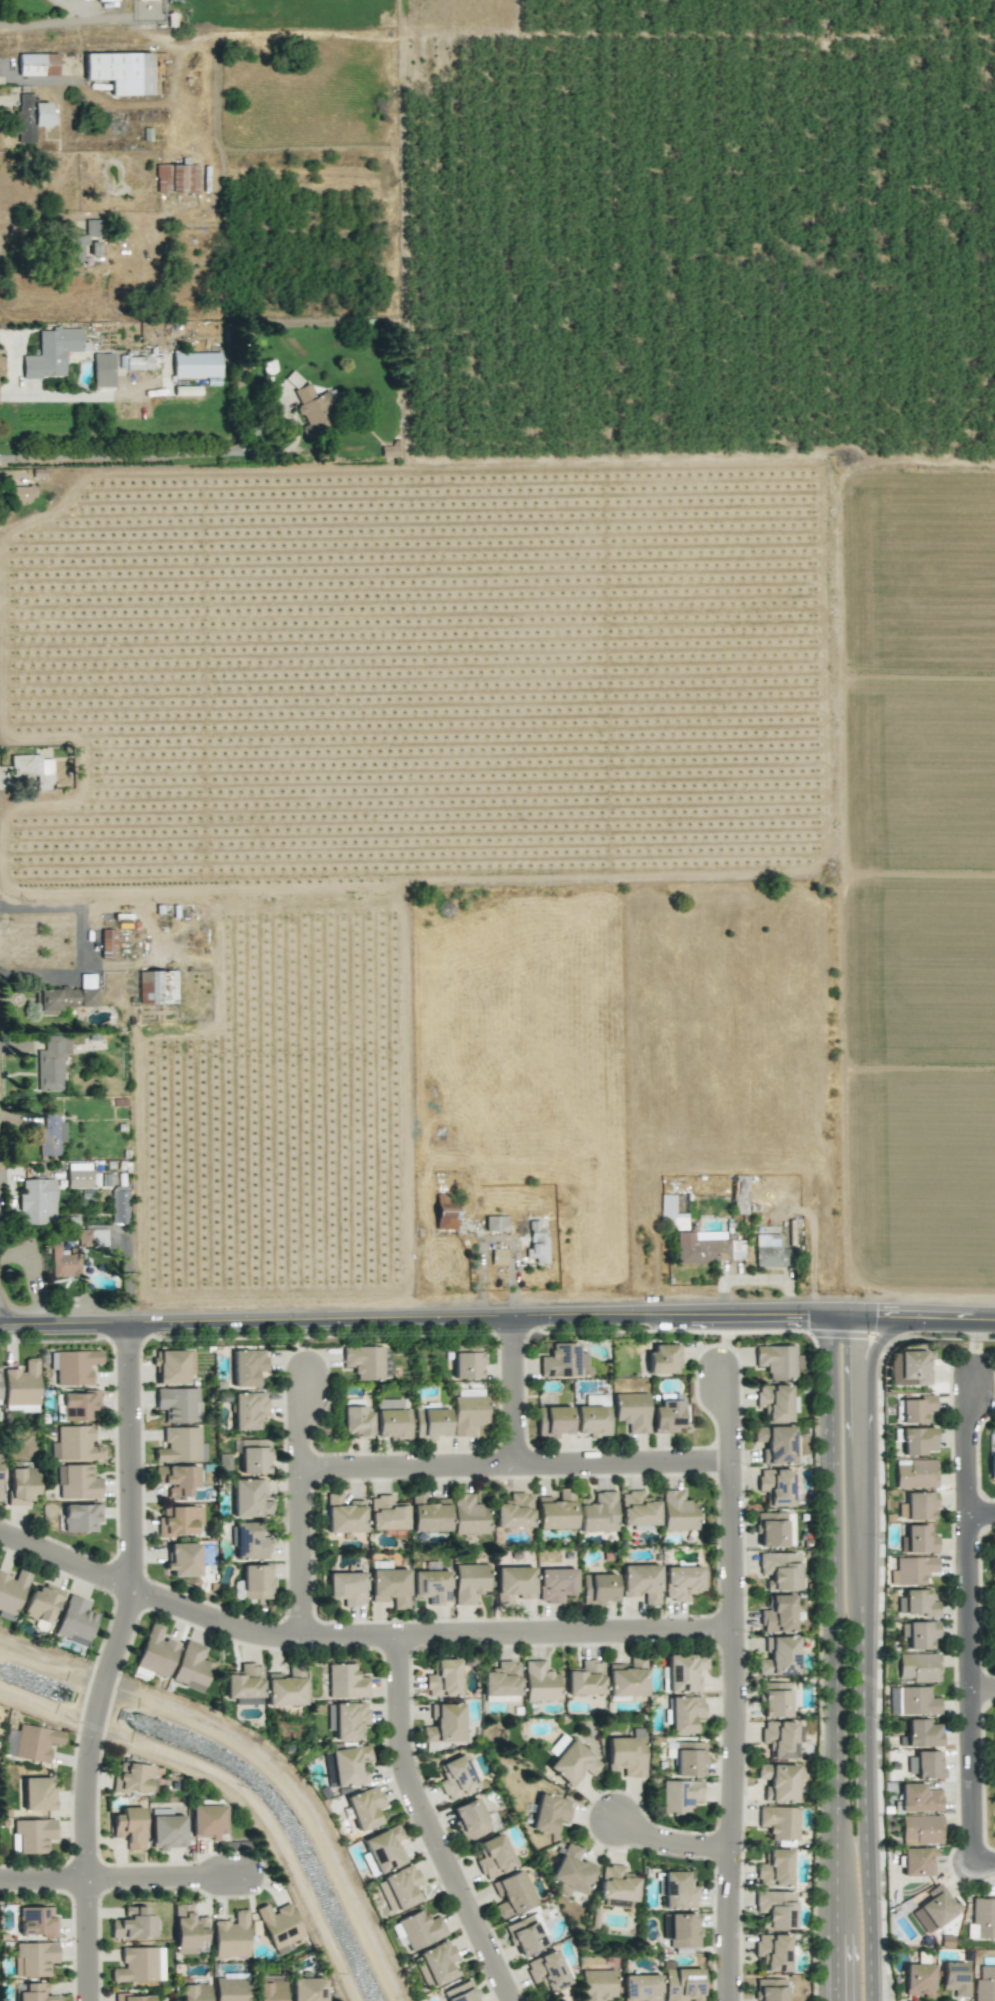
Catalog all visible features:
building: (105, 0)
road: (58, 22)
building: (37, 64)
building: (121, 71)
building: (30, 117)
building: (176, 178)
building: (81, 240)
building: (52, 352)
building: (139, 362)
building: (195, 365)
building: (102, 370)
building: (314, 408)
road: (295, 425)
building: (390, 450)
road: (118, 457)
building: (23, 493)
crop: (555, 580)
building: (33, 769)
road: (80, 942)
building: (107, 943)
building: (157, 987)
building: (65, 996)
building: (52, 1063)
building: (51, 1135)
building: (79, 1175)
building: (37, 1202)
building: (119, 1204)
building: (445, 1212)
building: (671, 1215)
building: (496, 1224)
building: (92, 1237)
building: (537, 1243)
building: (702, 1247)
building: (770, 1252)
building: (498, 1256)
building: (64, 1261)
road: (497, 1312)
road: (877, 1345)
building: (663, 1359)
building: (562, 1361)
building: (778, 1361)
building: (363, 1362)
building: (466, 1365)
building: (75, 1366)
building: (173, 1366)
building: (247, 1367)
building: (386, 1367)
building: (910, 1368)
building: (21, 1384)
road: (520, 1386)
building: (469, 1392)
building: (775, 1402)
building: (178, 1404)
building: (79, 1406)
building: (917, 1409)
building: (248, 1410)
building: (631, 1411)
road: (736, 1411)
building: (468, 1414)
building: (593, 1416)
road: (305, 1417)
building: (666, 1417)
building: (391, 1419)
building: (553, 1421)
building: (357, 1422)
building: (430, 1422)
road: (973, 1438)
building: (917, 1441)
building: (75, 1444)
building: (775, 1444)
building: (180, 1445)
building: (253, 1456)
road: (521, 1462)
building: (992, 1466)
building: (915, 1473)
building: (176, 1479)
building: (77, 1482)
building: (21, 1485)
building: (775, 1486)
building: (249, 1499)
building: (920, 1506)
building: (638, 1509)
building: (556, 1511)
building: (677, 1511)
building: (513, 1512)
building: (597, 1512)
road: (985, 1512)
building: (343, 1514)
building: (386, 1514)
building: (429, 1515)
building: (468, 1515)
building: (81, 1517)
building: (179, 1520)
building: (774, 1529)
building: (917, 1540)
building: (250, 1542)
road: (307, 1550)
building: (183, 1560)
building: (993, 1561)
building: (779, 1570)
building: (912, 1570)
building: (256, 1582)
building: (641, 1582)
building: (681, 1582)
building: (469, 1583)
building: (513, 1584)
building: (555, 1584)
building: (430, 1586)
building: (389, 1587)
building: (346, 1588)
building: (598, 1588)
building: (12, 1591)
building: (41, 1603)
building: (917, 1603)
building: (778, 1614)
building: (75, 1621)
road: (360, 1632)
building: (919, 1634)
building: (993, 1643)
building: (156, 1652)
building: (778, 1656)
road: (832, 1656)
road: (859, 1656)
road: (111, 1660)
building: (191, 1667)
building: (918, 1667)
building: (684, 1672)
building: (627, 1678)
building: (443, 1679)
building: (501, 1679)
building: (585, 1679)
building: (346, 1682)
building: (539, 1682)
building: (245, 1685)
road: (976, 1685)
building: (285, 1687)
road: (986, 1688)
building: (501, 1699)
building: (774, 1699)
building: (916, 1701)
building: (684, 1714)
building: (349, 1720)
building: (444, 1723)
road: (741, 1729)
building: (994, 1732)
building: (922, 1733)
building: (779, 1738)
building: (35, 1742)
building: (557, 1745)
building: (627, 1755)
building: (689, 1759)
building: (572, 1763)
building: (349, 1765)
building: (925, 1765)
building: (456, 1778)
building: (134, 1779)
building: (778, 1782)
building: (37, 1793)
building: (679, 1796)
building: (918, 1798)
building: (365, 1808)
building: (549, 1813)
building: (469, 1818)
building: (207, 1821)
building: (779, 1822)
road: (435, 1823)
building: (129, 1827)
building: (921, 1830)
building: (994, 1831)
building: (167, 1832)
building: (31, 1835)
road: (677, 1839)
building: (385, 1849)
building: (493, 1856)
building: (918, 1862)
road: (988, 1862)
building: (774, 1869)
building: (571, 1871)
road: (45, 1880)
road: (172, 1880)
building: (616, 1883)
building: (399, 1888)
building: (678, 1890)
building: (512, 1894)
building: (776, 1908)
building: (935, 1909)
building: (982, 1919)
building: (36, 1922)
building: (133, 1924)
building: (279, 1927)
building: (420, 1929)
building: (683, 1930)
building: (188, 1931)
building: (524, 1935)
building: (231, 1936)
building: (772, 1952)
building: (34, 1958)
building: (159, 1963)
building: (435, 1964)
building: (136, 1965)
building: (547, 1971)
building: (955, 1978)
building: (919, 1980)
building: (985, 1983)
building: (682, 1984)
building: (597, 1985)
building: (269, 1988)
building: (641, 1988)
building: (231, 1989)
building: (308, 1989)
building: (770, 1990)
building: (193, 1992)
building: (461, 1992)
building: (36, 1993)
building: (133, 1997)

